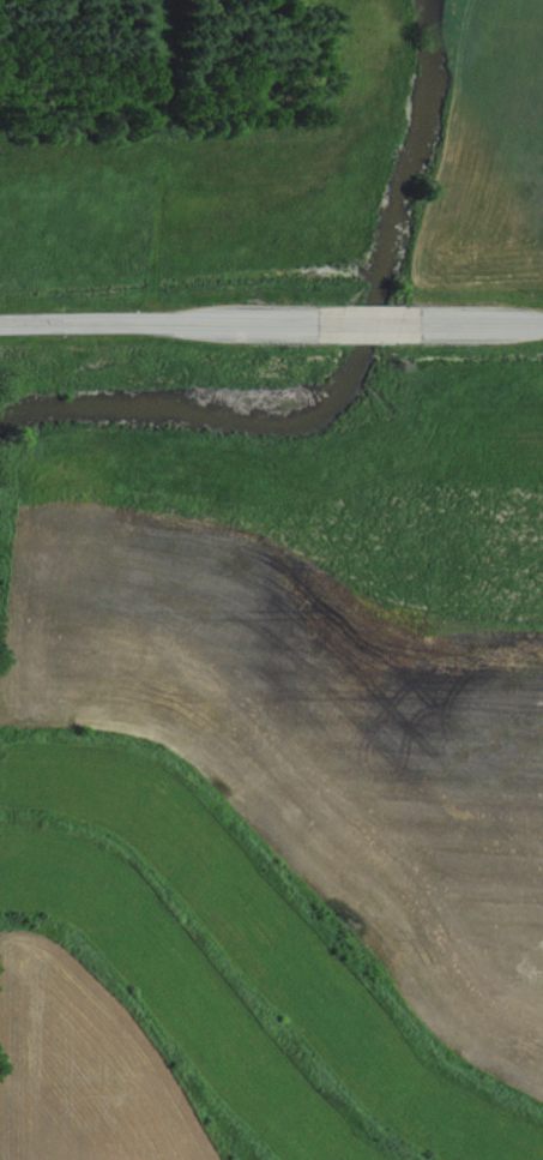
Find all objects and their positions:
road: (271, 323)

